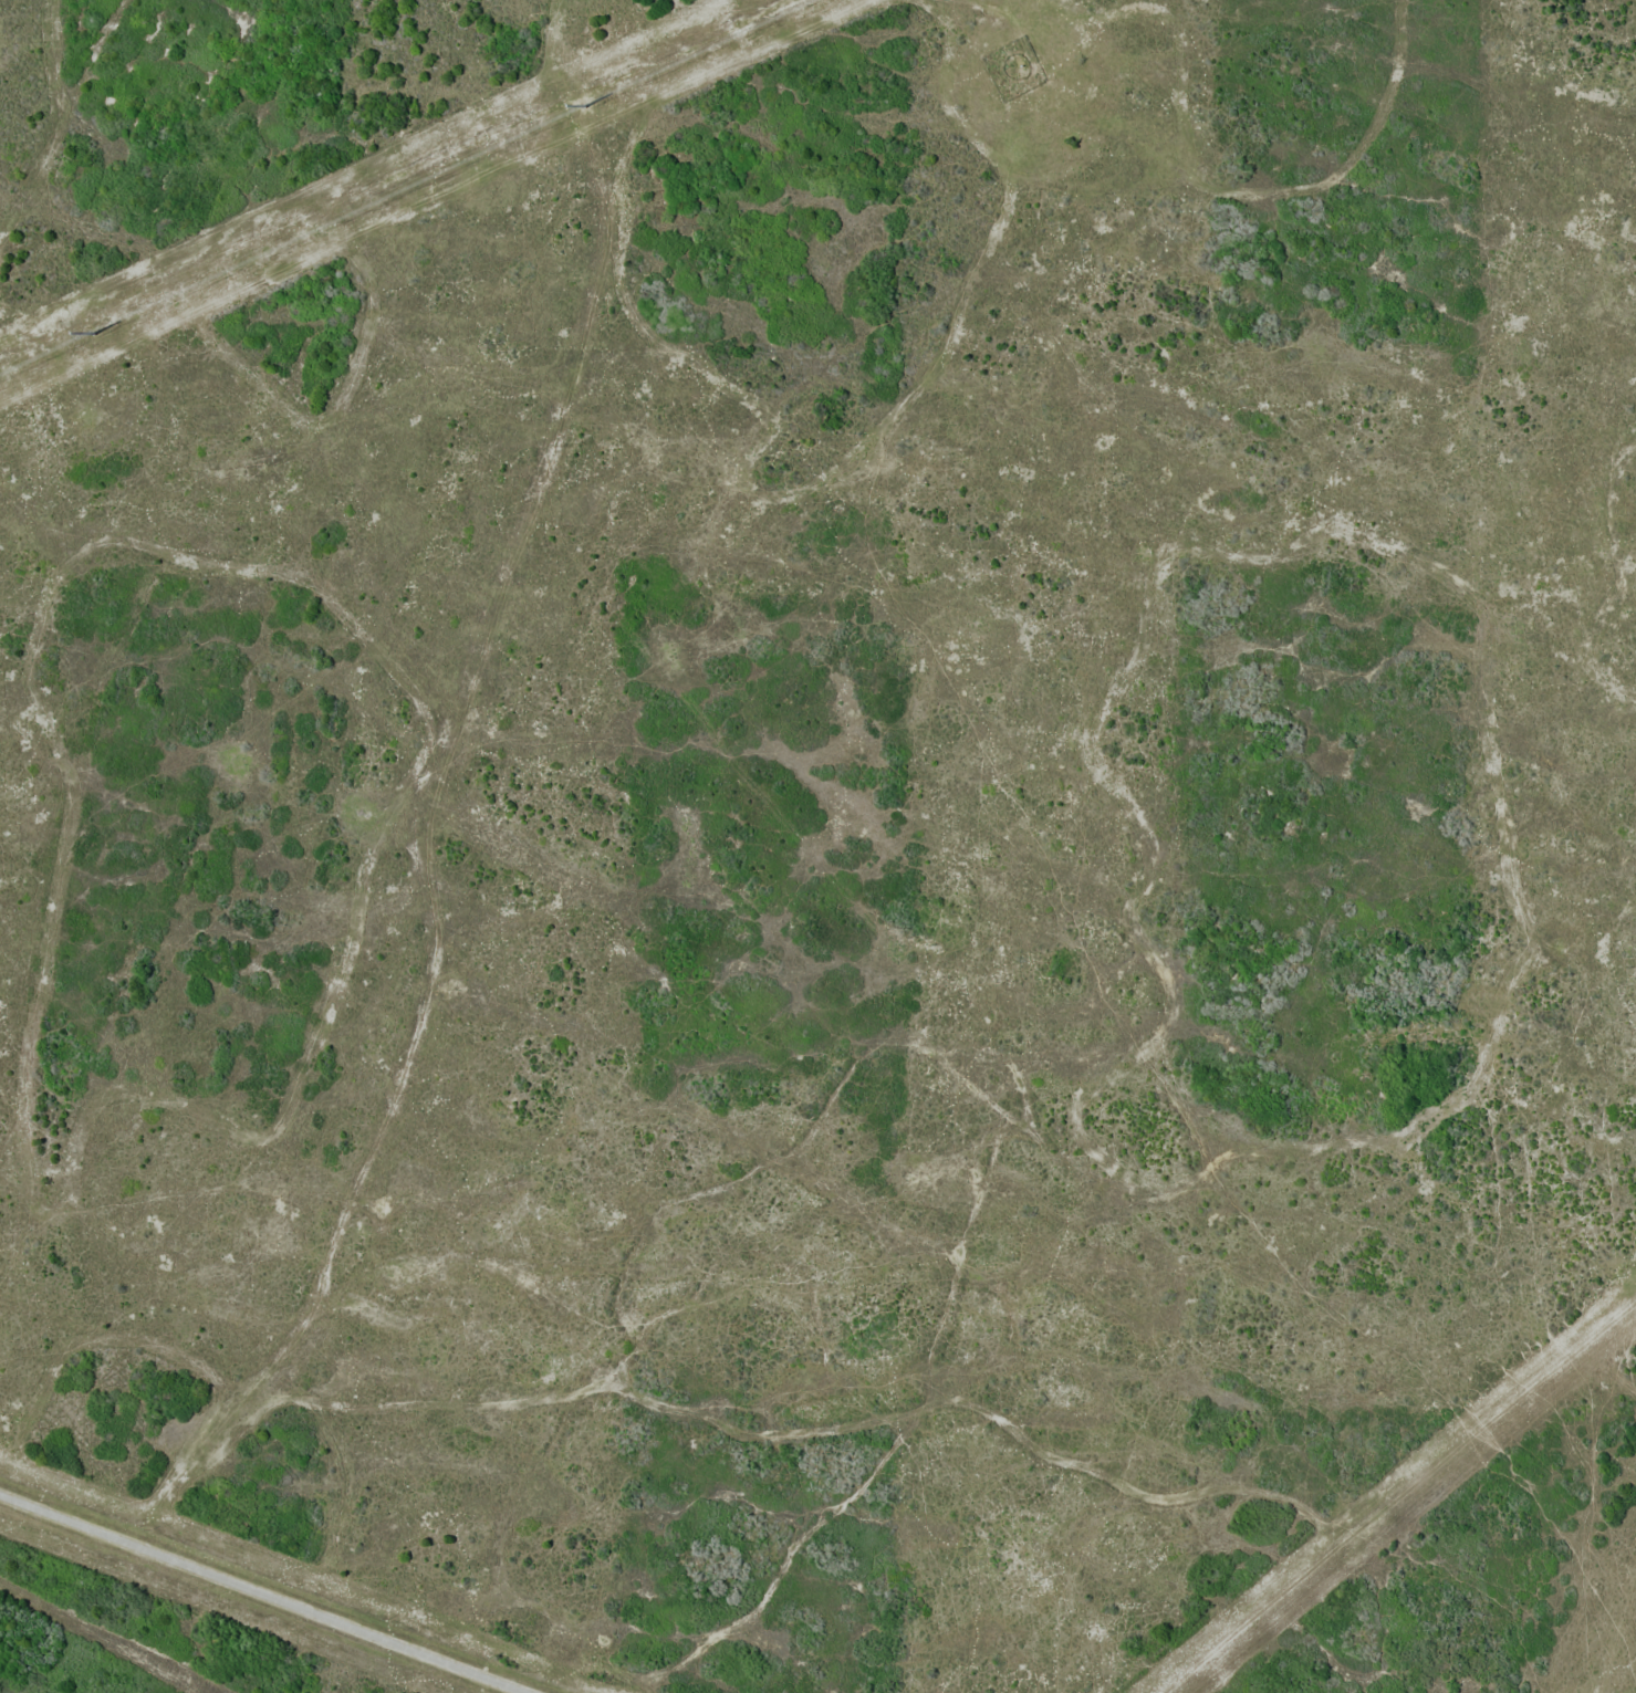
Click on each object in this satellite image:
power tower: (582, 107)
power tower: (93, 334)
road: (280, 1589)

